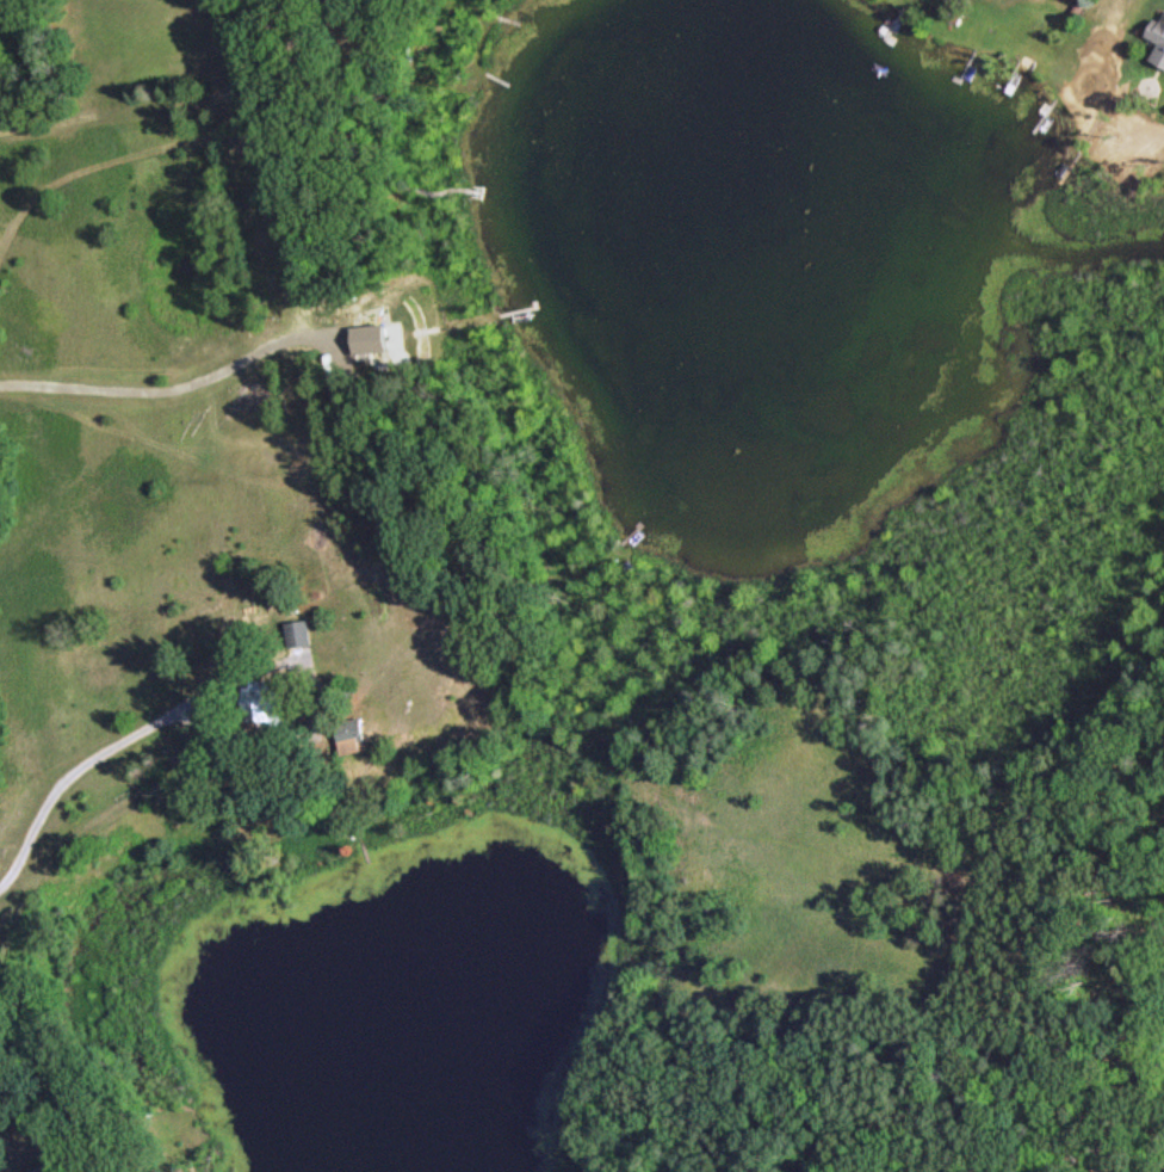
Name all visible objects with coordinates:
building: (1158, 32)
river: (1090, 253)

